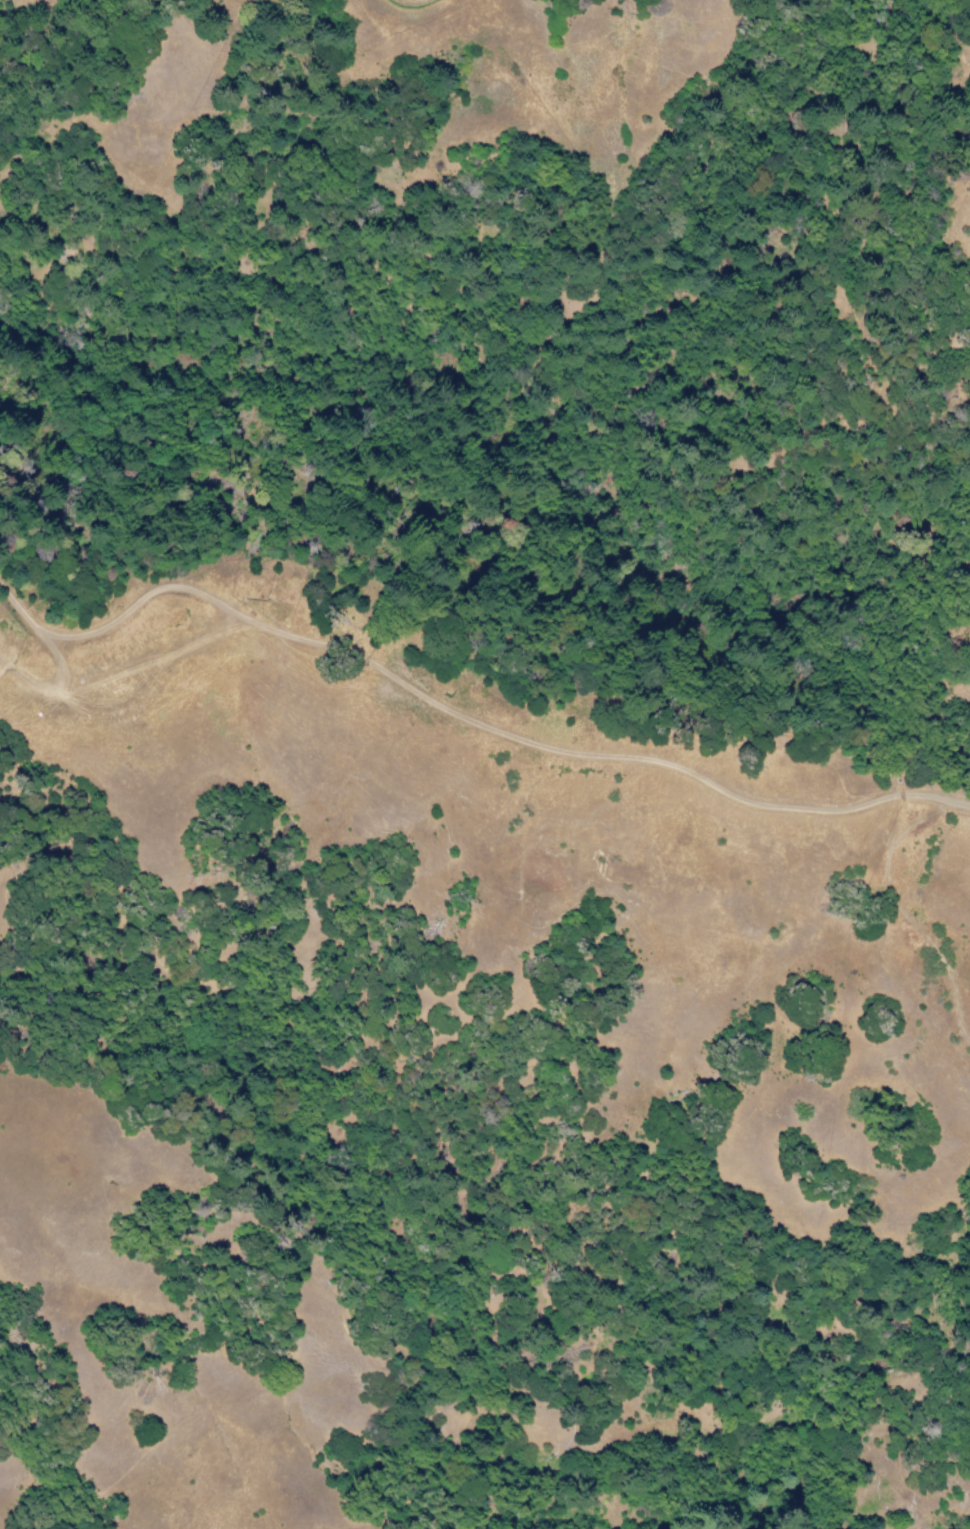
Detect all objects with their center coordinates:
road: (489, 753)

